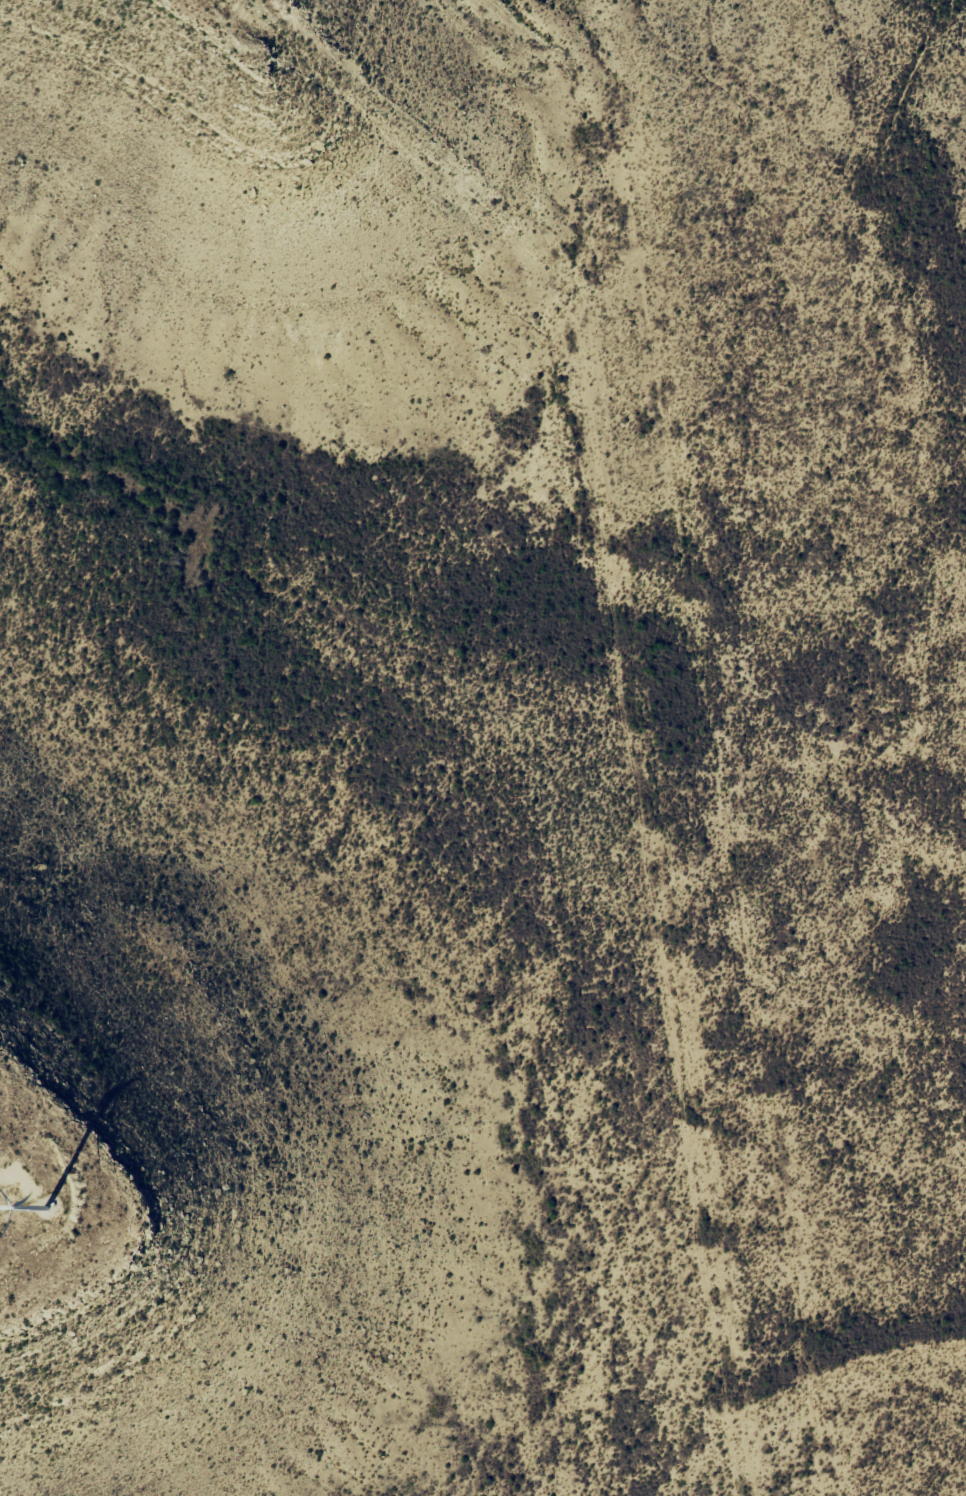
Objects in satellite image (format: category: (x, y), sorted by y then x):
road: (232, 10)
wind turbine: (36, 1210)

